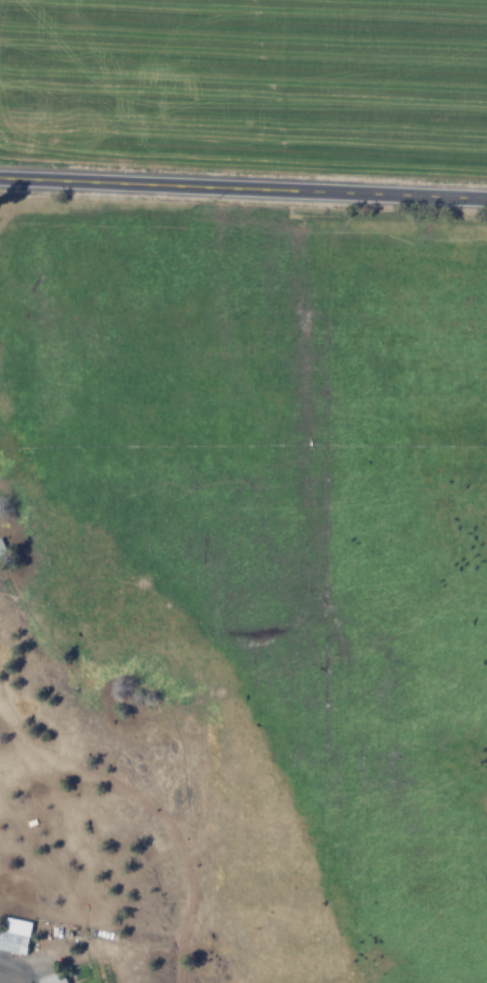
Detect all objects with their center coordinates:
crop: (248, 79)
road: (243, 189)
crop: (303, 539)
building: (13, 935)
building: (52, 980)

